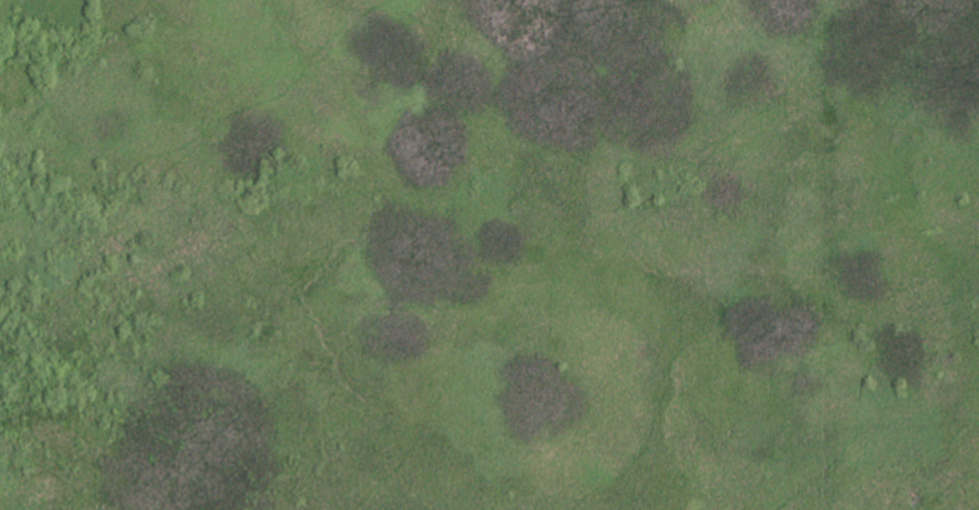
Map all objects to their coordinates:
building: (962, 137)

